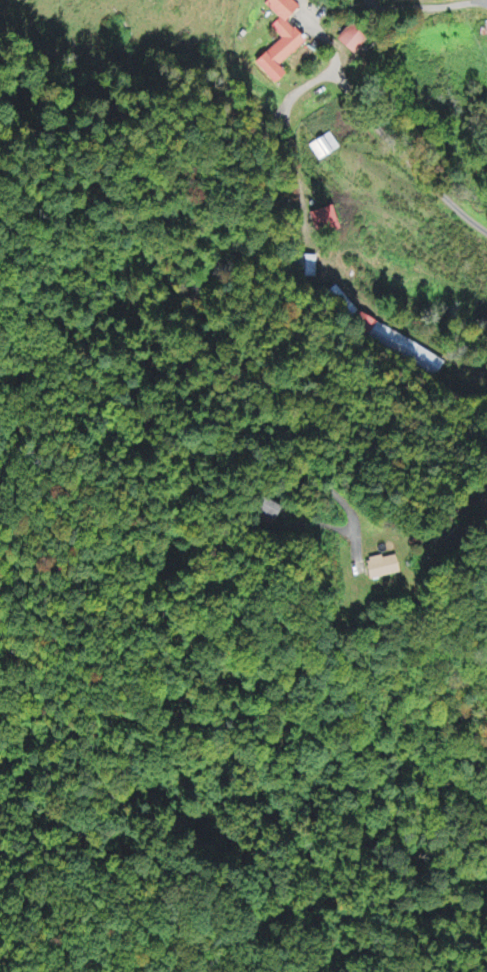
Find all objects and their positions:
road: (427, 6)
building: (291, 40)
building: (350, 40)
road: (379, 126)
building: (323, 221)
building: (307, 266)
road: (201, 306)
building: (397, 344)
building: (269, 509)
building: (380, 568)

